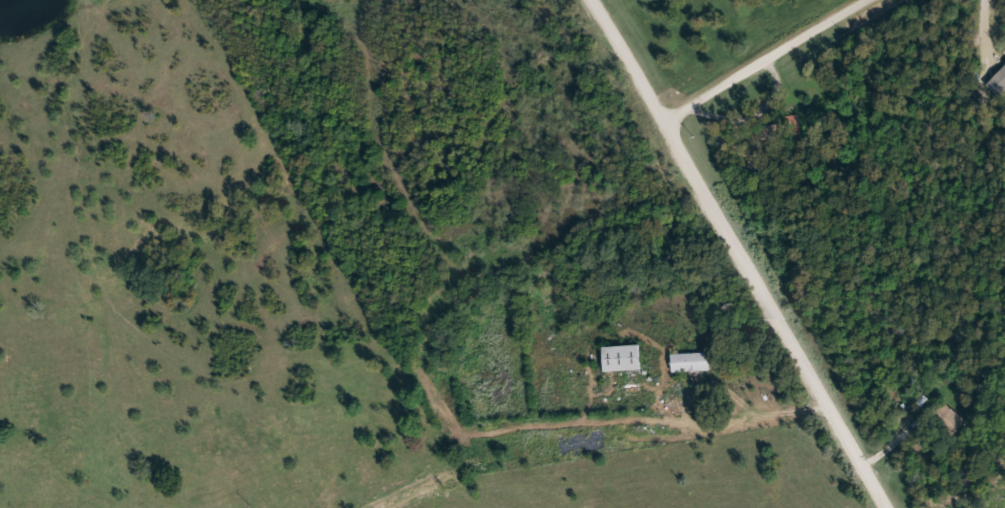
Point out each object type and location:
building: (775, 133)
road: (710, 202)
building: (622, 358)
building: (691, 362)
road: (429, 392)
building: (949, 420)
road: (856, 456)
road: (437, 475)

